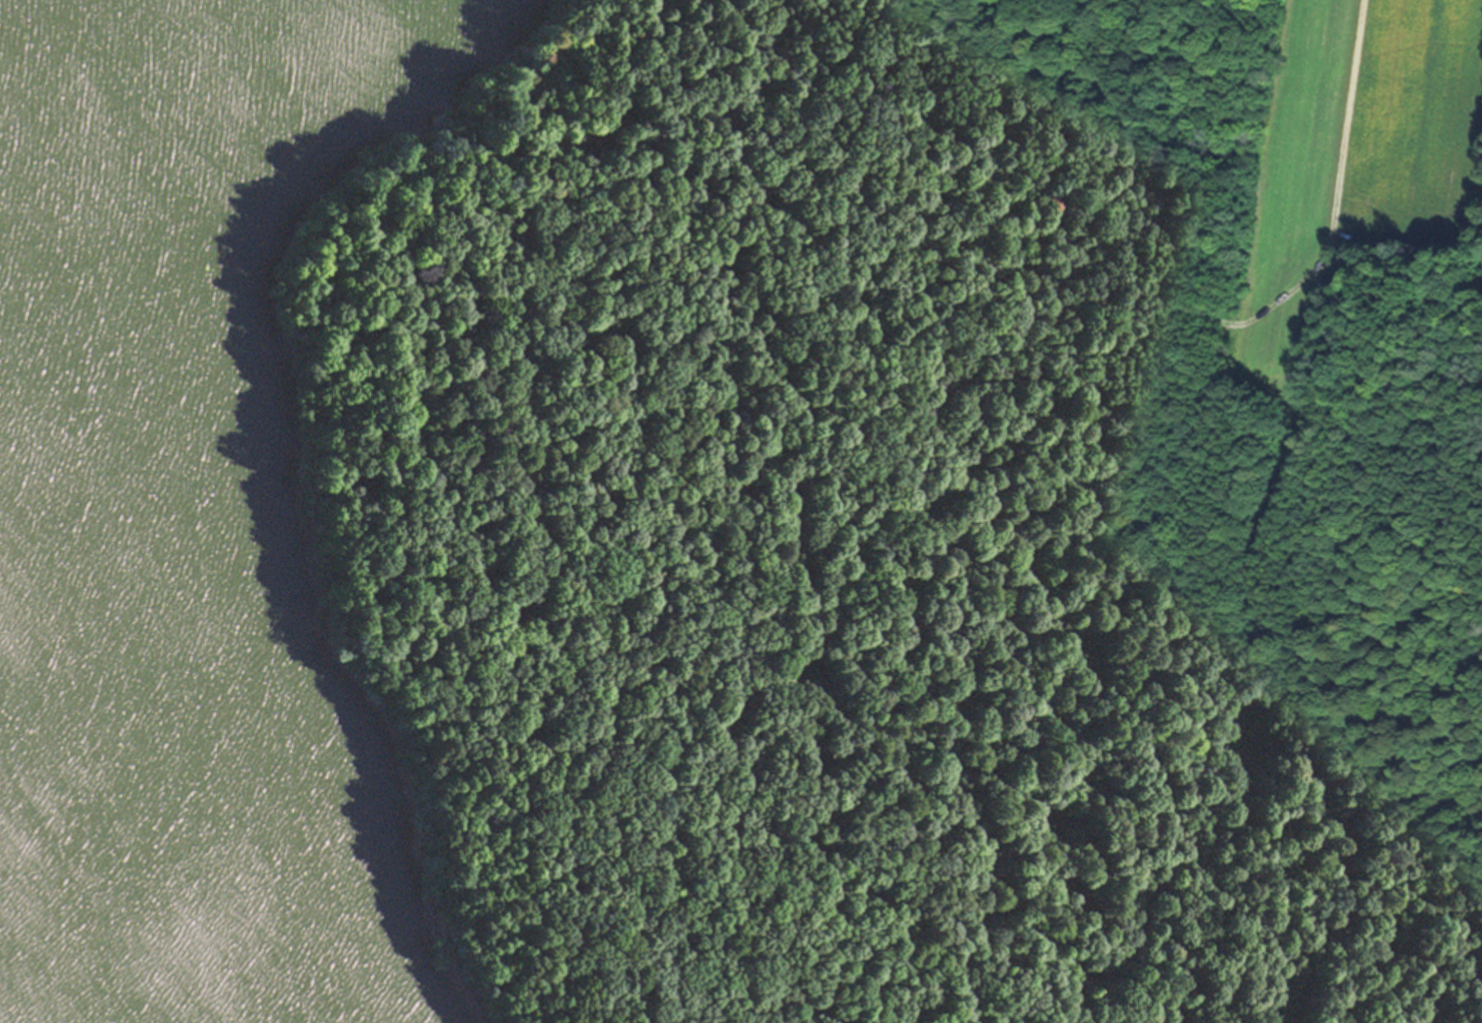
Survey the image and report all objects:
crop: (1356, 163)
road: (1335, 190)
river: (33, 956)

